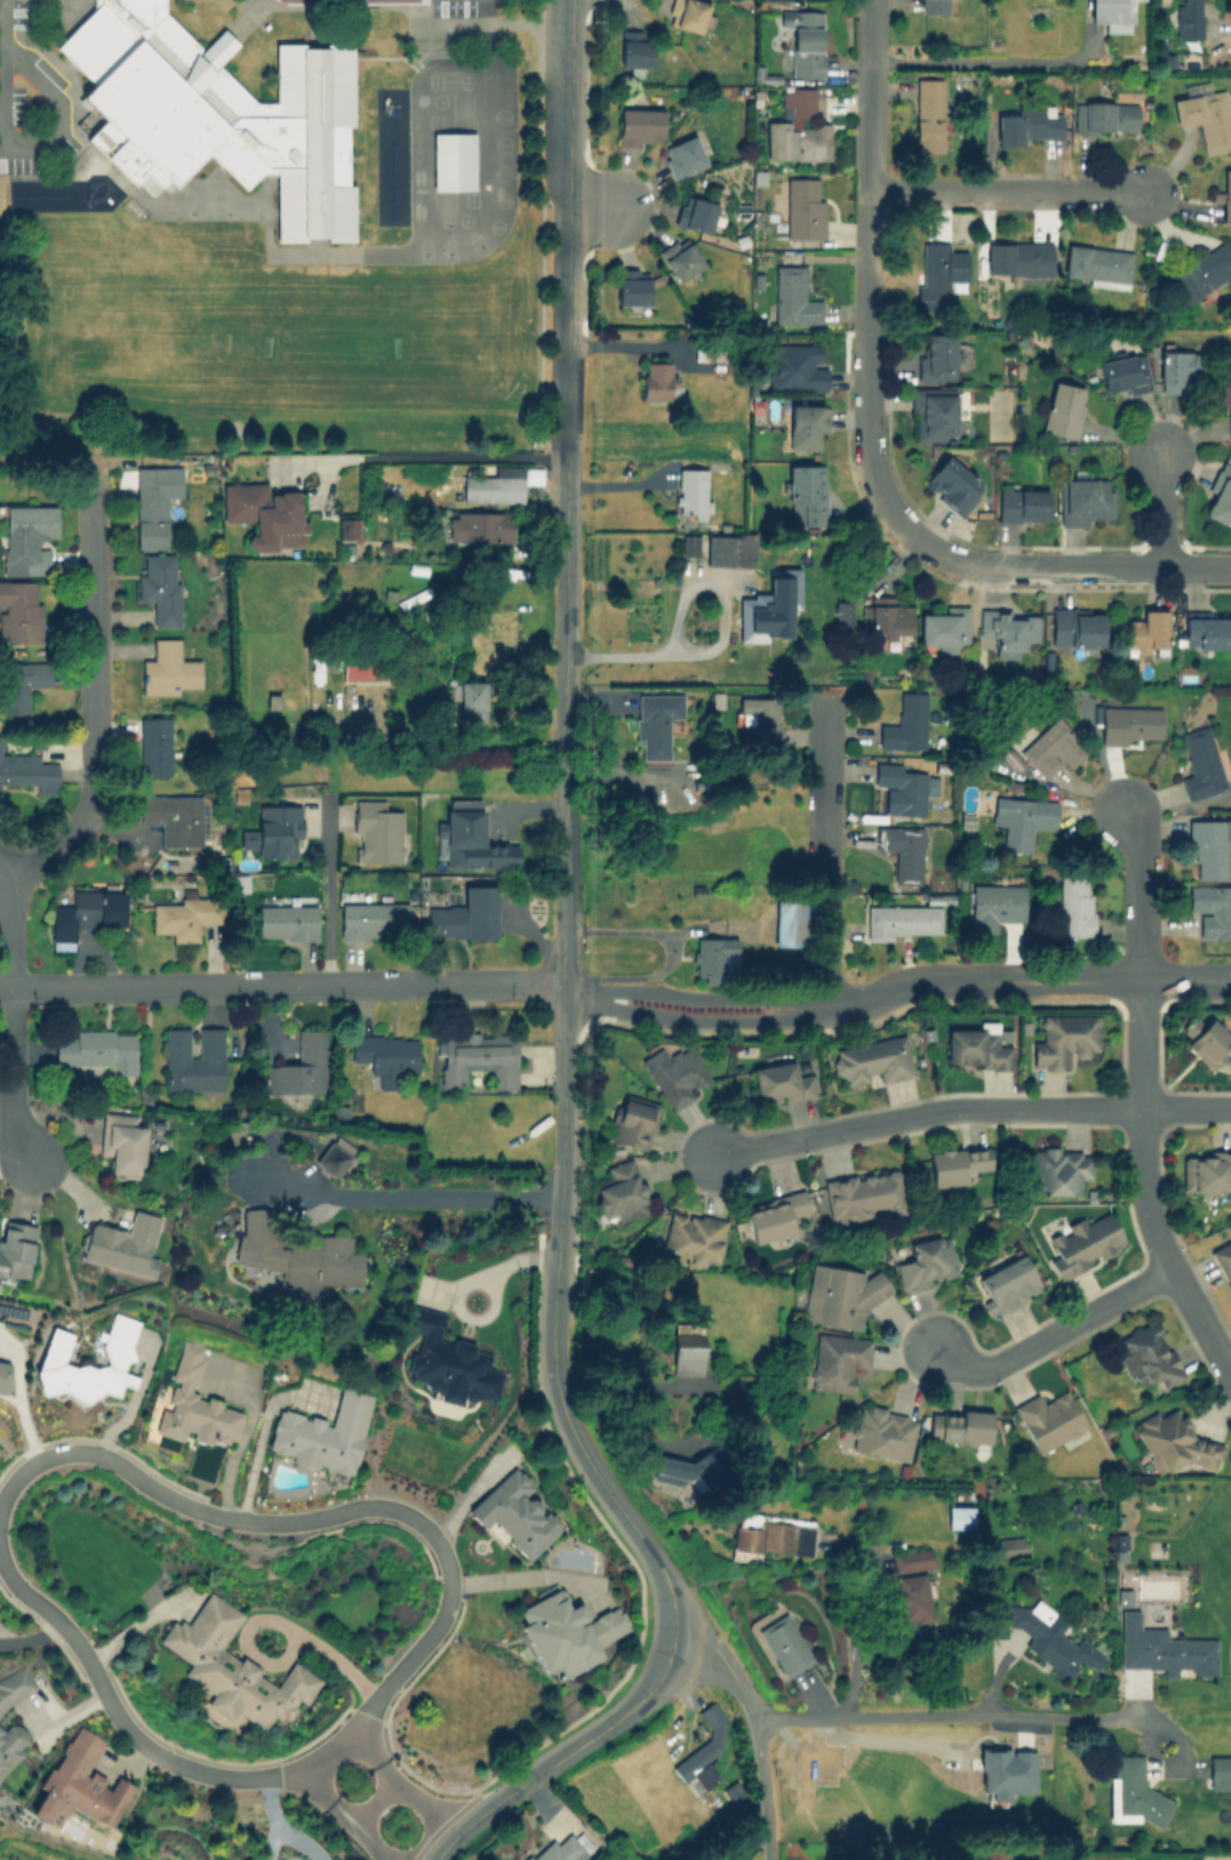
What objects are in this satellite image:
building: (931, 6)
building: (688, 13)
building: (1111, 13)
road: (1, 18)
building: (1187, 18)
building: (804, 40)
building: (634, 50)
road: (988, 61)
building: (217, 112)
building: (928, 114)
building: (1105, 116)
building: (1204, 118)
building: (1028, 122)
building: (639, 125)
building: (796, 129)
road: (41, 143)
building: (682, 155)
building: (451, 160)
road: (570, 165)
road: (1007, 194)
building: (1226, 195)
building: (804, 206)
road: (592, 211)
building: (694, 212)
road: (868, 226)
building: (678, 257)
building: (1018, 257)
building: (1096, 263)
building: (940, 272)
building: (1201, 272)
building: (631, 286)
building: (792, 296)
building: (936, 355)
building: (796, 366)
building: (1178, 369)
building: (1123, 373)
building: (656, 380)
road: (566, 393)
building: (1062, 409)
building: (1226, 410)
building: (931, 412)
building: (805, 426)
road: (444, 455)
building: (534, 475)
building: (952, 484)
building: (491, 487)
building: (690, 491)
building: (804, 493)
building: (1219, 495)
building: (1084, 498)
building: (154, 503)
building: (1021, 504)
road: (1164, 508)
building: (264, 514)
building: (475, 525)
building: (347, 529)
building: (27, 537)
building: (689, 543)
building: (728, 549)
road: (1021, 567)
building: (159, 586)
building: (766, 607)
building: (18, 610)
building: (843, 611)
building: (888, 616)
building: (1075, 626)
building: (942, 627)
building: (1008, 627)
building: (1145, 631)
building: (1207, 631)
road: (718, 639)
building: (355, 667)
building: (169, 668)
building: (21, 684)
road: (93, 692)
building: (469, 698)
building: (759, 714)
road: (564, 717)
building: (654, 721)
building: (905, 723)
building: (1127, 724)
building: (0, 738)
building: (154, 744)
road: (452, 746)
building: (1052, 746)
building: (1201, 763)
building: (28, 771)
building: (902, 787)
building: (175, 817)
building: (1021, 820)
building: (274, 831)
building: (375, 832)
building: (468, 838)
building: (1208, 846)
building: (901, 851)
road: (827, 852)
road: (2, 869)
road: (1140, 890)
road: (326, 894)
building: (997, 906)
building: (1075, 907)
building: (1212, 908)
building: (84, 913)
building: (465, 914)
building: (181, 915)
building: (372, 919)
building: (285, 920)
building: (902, 920)
building: (787, 922)
road: (8, 929)
building: (714, 959)
road: (281, 985)
road: (894, 987)
building: (1062, 1039)
building: (1207, 1044)
building: (979, 1046)
building: (97, 1048)
building: (386, 1055)
building: (477, 1056)
building: (193, 1060)
building: (870, 1060)
building: (298, 1066)
building: (674, 1073)
road: (13, 1076)
building: (780, 1082)
road: (974, 1107)
road: (563, 1113)
building: (633, 1120)
building: (122, 1142)
building: (332, 1156)
building: (954, 1163)
building: (1059, 1169)
building: (1206, 1171)
road: (1145, 1186)
building: (620, 1191)
building: (864, 1194)
road: (427, 1198)
building: (773, 1216)
building: (690, 1238)
building: (1083, 1242)
building: (122, 1244)
building: (15, 1249)
building: (296, 1254)
building: (927, 1261)
building: (1223, 1261)
building: (1008, 1282)
building: (838, 1295)
road: (1052, 1333)
building: (688, 1348)
building: (116, 1352)
building: (1146, 1354)
building: (448, 1360)
building: (836, 1360)
building: (2, 1375)
road: (631, 1386)
building: (194, 1403)
building: (1048, 1419)
building: (958, 1425)
road: (262, 1428)
building: (323, 1432)
building: (882, 1432)
building: (1173, 1440)
road: (583, 1451)
road: (93, 1454)
building: (684, 1470)
building: (514, 1512)
road: (409, 1516)
building: (959, 1516)
road: (257, 1519)
building: (769, 1534)
building: (1007, 1546)
road: (530, 1576)
building: (911, 1584)
road: (49, 1610)
building: (566, 1632)
road: (33, 1638)
building: (1050, 1638)
building: (783, 1643)
building: (1162, 1648)
road: (724, 1665)
building: (230, 1667)
road: (397, 1673)
building: (15, 1684)
road: (950, 1716)
building: (10, 1741)
building: (701, 1753)
road: (562, 1755)
road: (369, 1757)
road: (200, 1768)
building: (1219, 1770)
building: (1004, 1771)
building: (79, 1782)
road: (762, 1787)
building: (1130, 1792)
road: (331, 1795)
road: (375, 1801)
road: (422, 1807)
road: (724, 1830)
road: (376, 1839)
building: (562, 1848)

